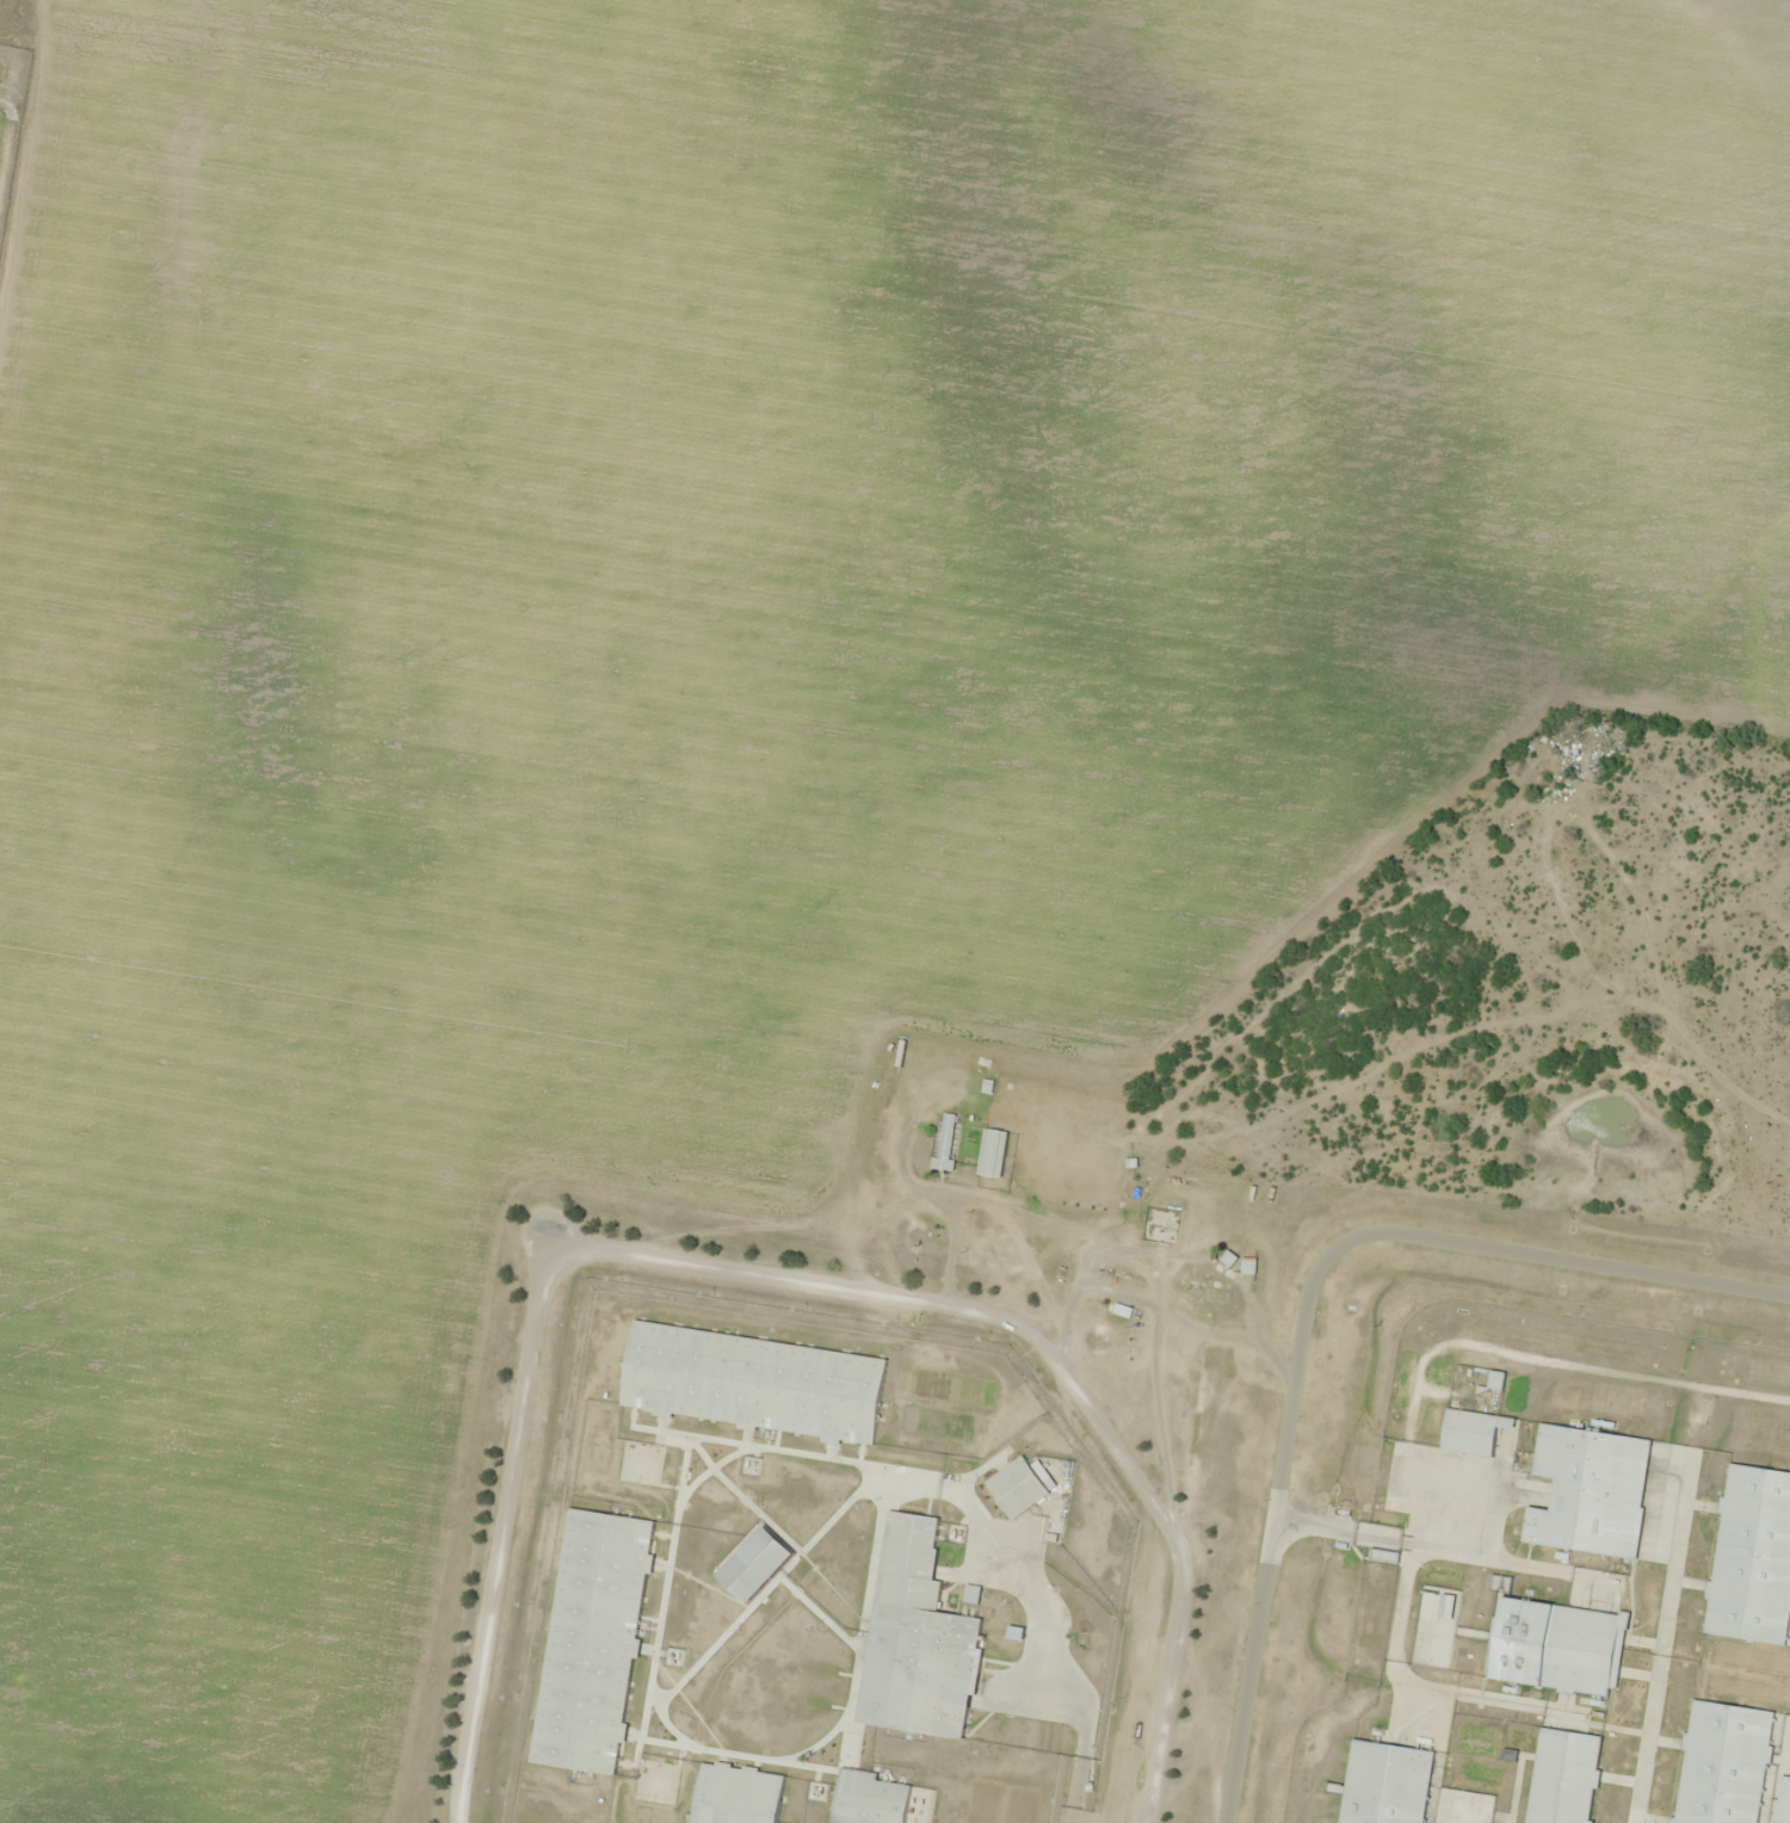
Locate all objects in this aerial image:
building: (942, 1143)
building: (989, 1152)
building: (1227, 1259)
building: (1246, 1266)
road: (772, 1281)
road: (1303, 1299)
building: (1119, 1310)
building: (751, 1383)
building: (1471, 1430)
building: (1014, 1487)
building: (1587, 1490)
building: (1751, 1556)
building: (752, 1563)
building: (1444, 1603)
building: (914, 1638)
building: (590, 1639)
building: (1554, 1645)
building: (1721, 1763)
building: (1561, 1776)
building: (1382, 1784)
building: (734, 1794)
building: (866, 1798)

